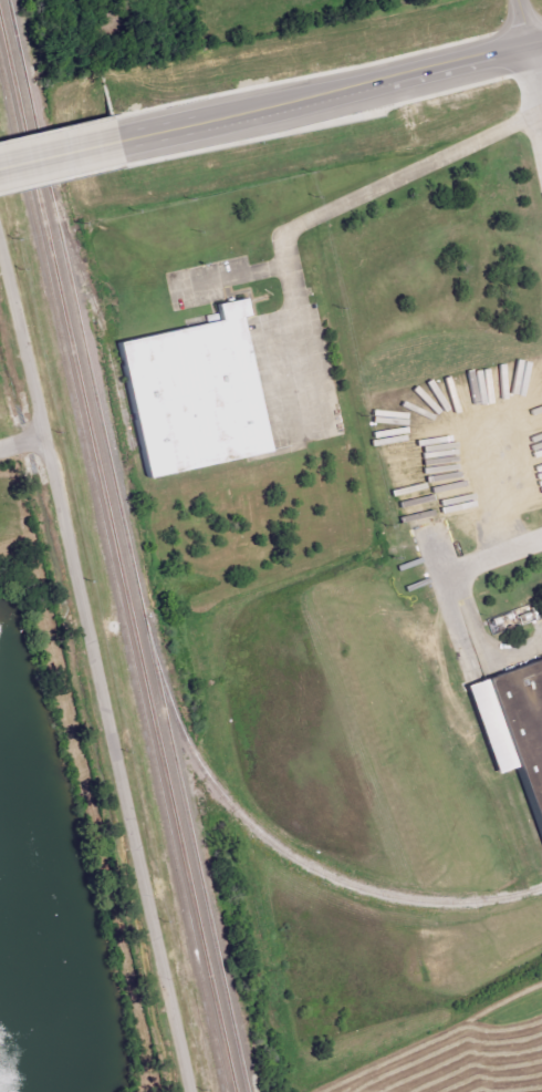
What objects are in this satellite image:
road: (524, 22)
road: (536, 44)
road: (461, 60)
road: (536, 70)
road: (294, 99)
road: (150, 133)
road: (52, 153)
road: (324, 213)
railway: (97, 318)
building: (199, 384)
road: (20, 441)
road: (496, 554)
railway: (115, 565)
railway: (132, 578)
railway: (110, 586)
road: (98, 676)
building: (524, 714)
railway: (192, 861)

